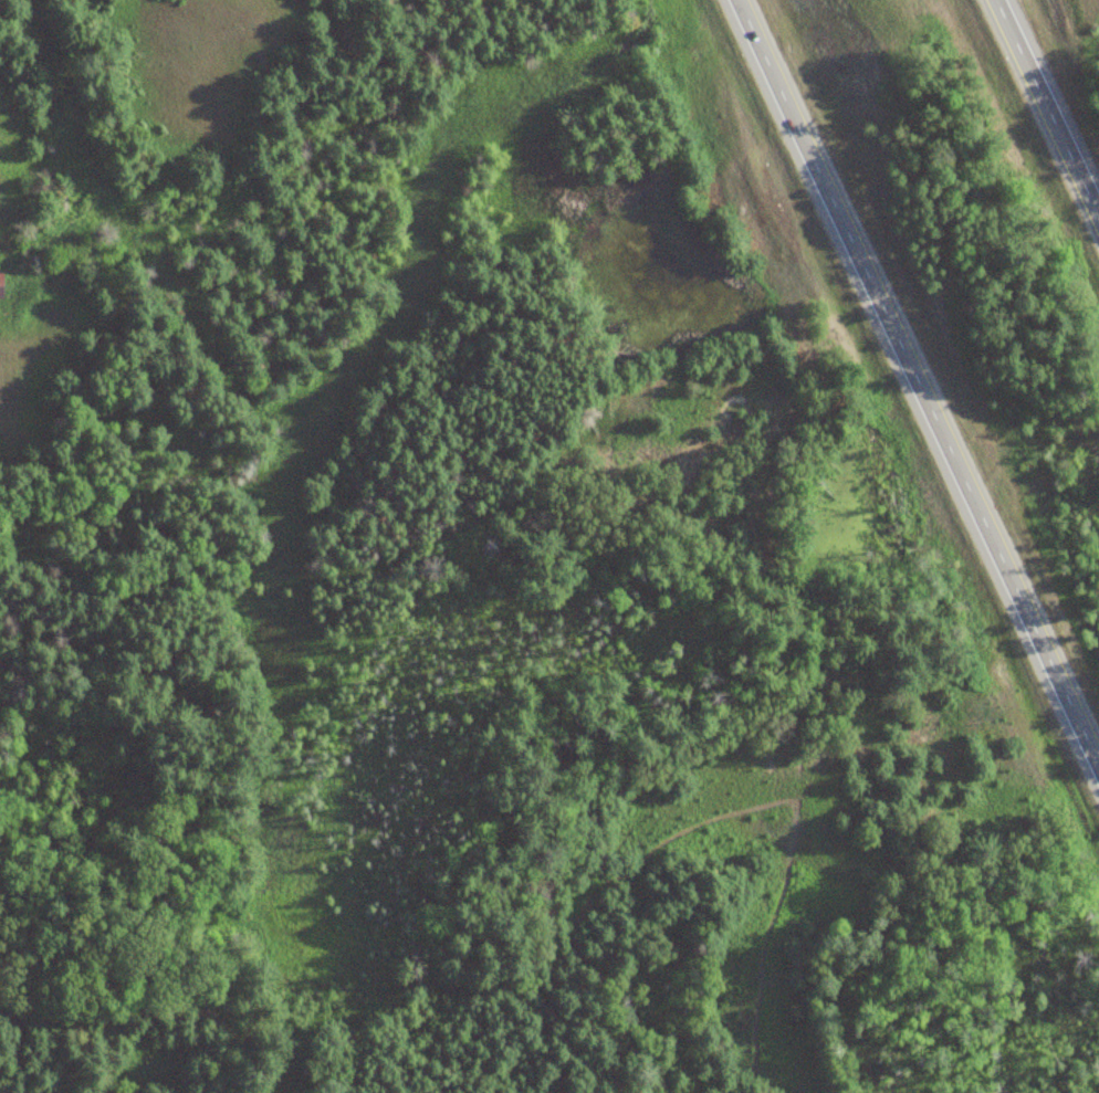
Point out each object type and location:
road: (1053, 97)
road: (921, 374)

